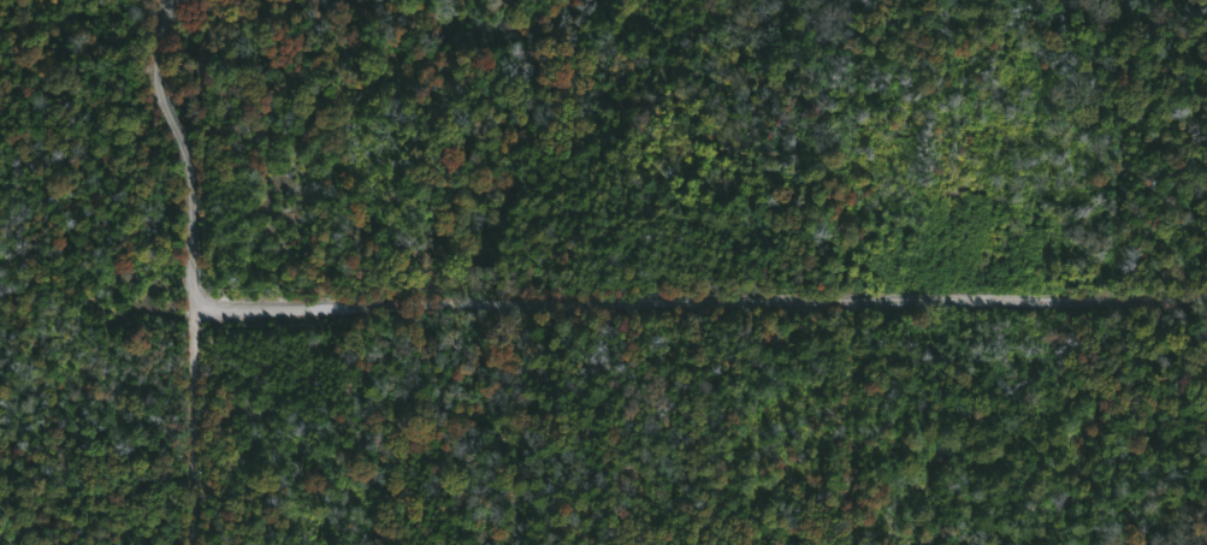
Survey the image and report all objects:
road: (183, 146)
airport: (603, 272)
road: (699, 301)

